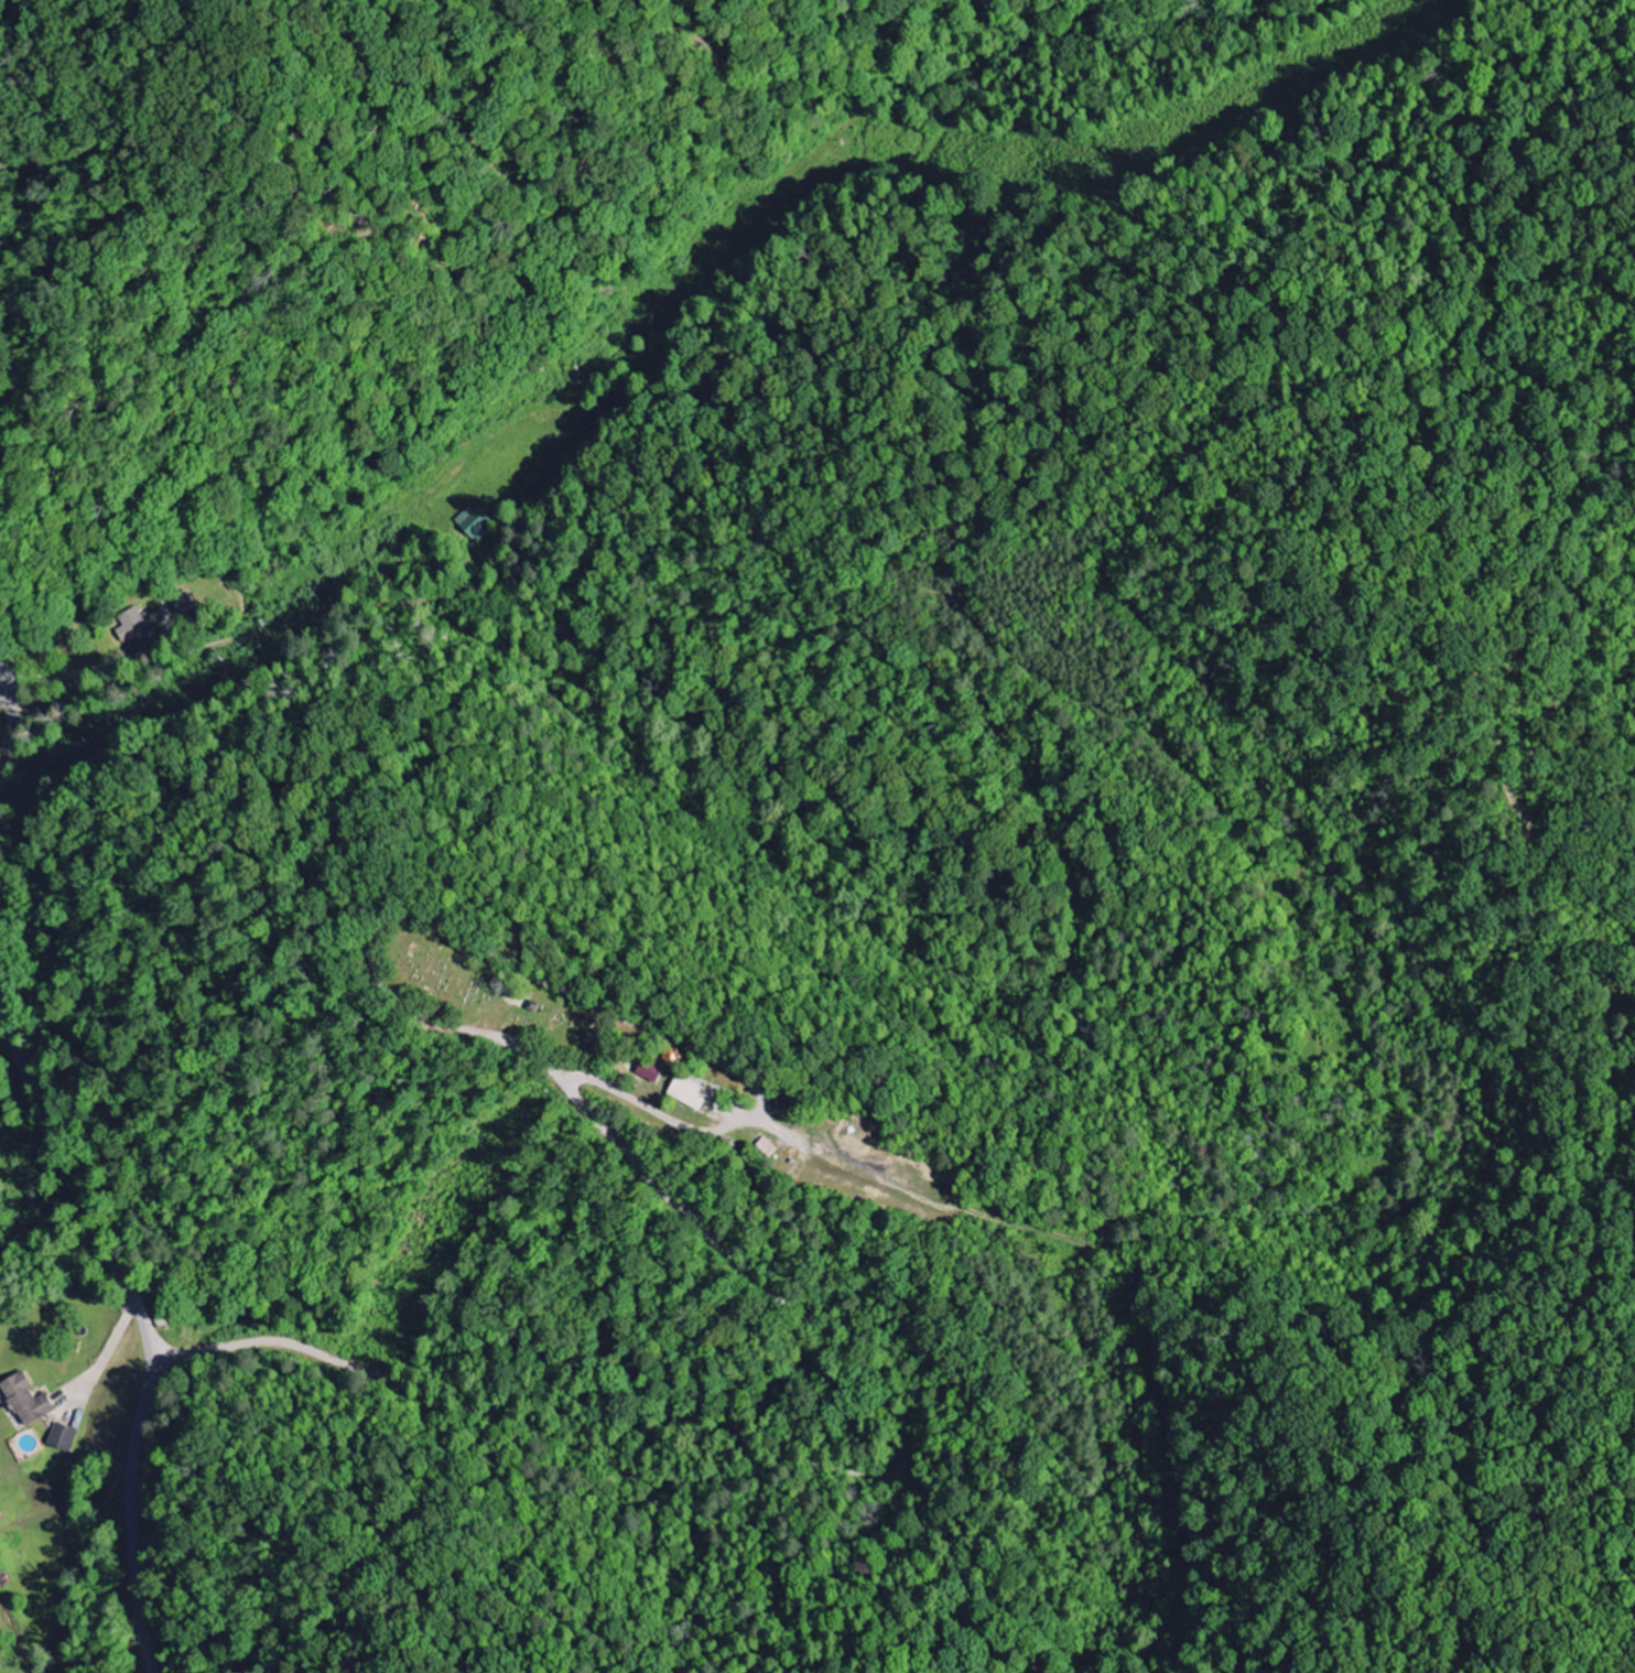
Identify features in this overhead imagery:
building: (474, 521)
building: (136, 630)
road: (6, 681)
road: (10, 722)
park: (501, 999)
building: (649, 1072)
building: (689, 1093)
road: (140, 1317)
building: (25, 1399)
road: (909, 1425)
building: (61, 1437)

